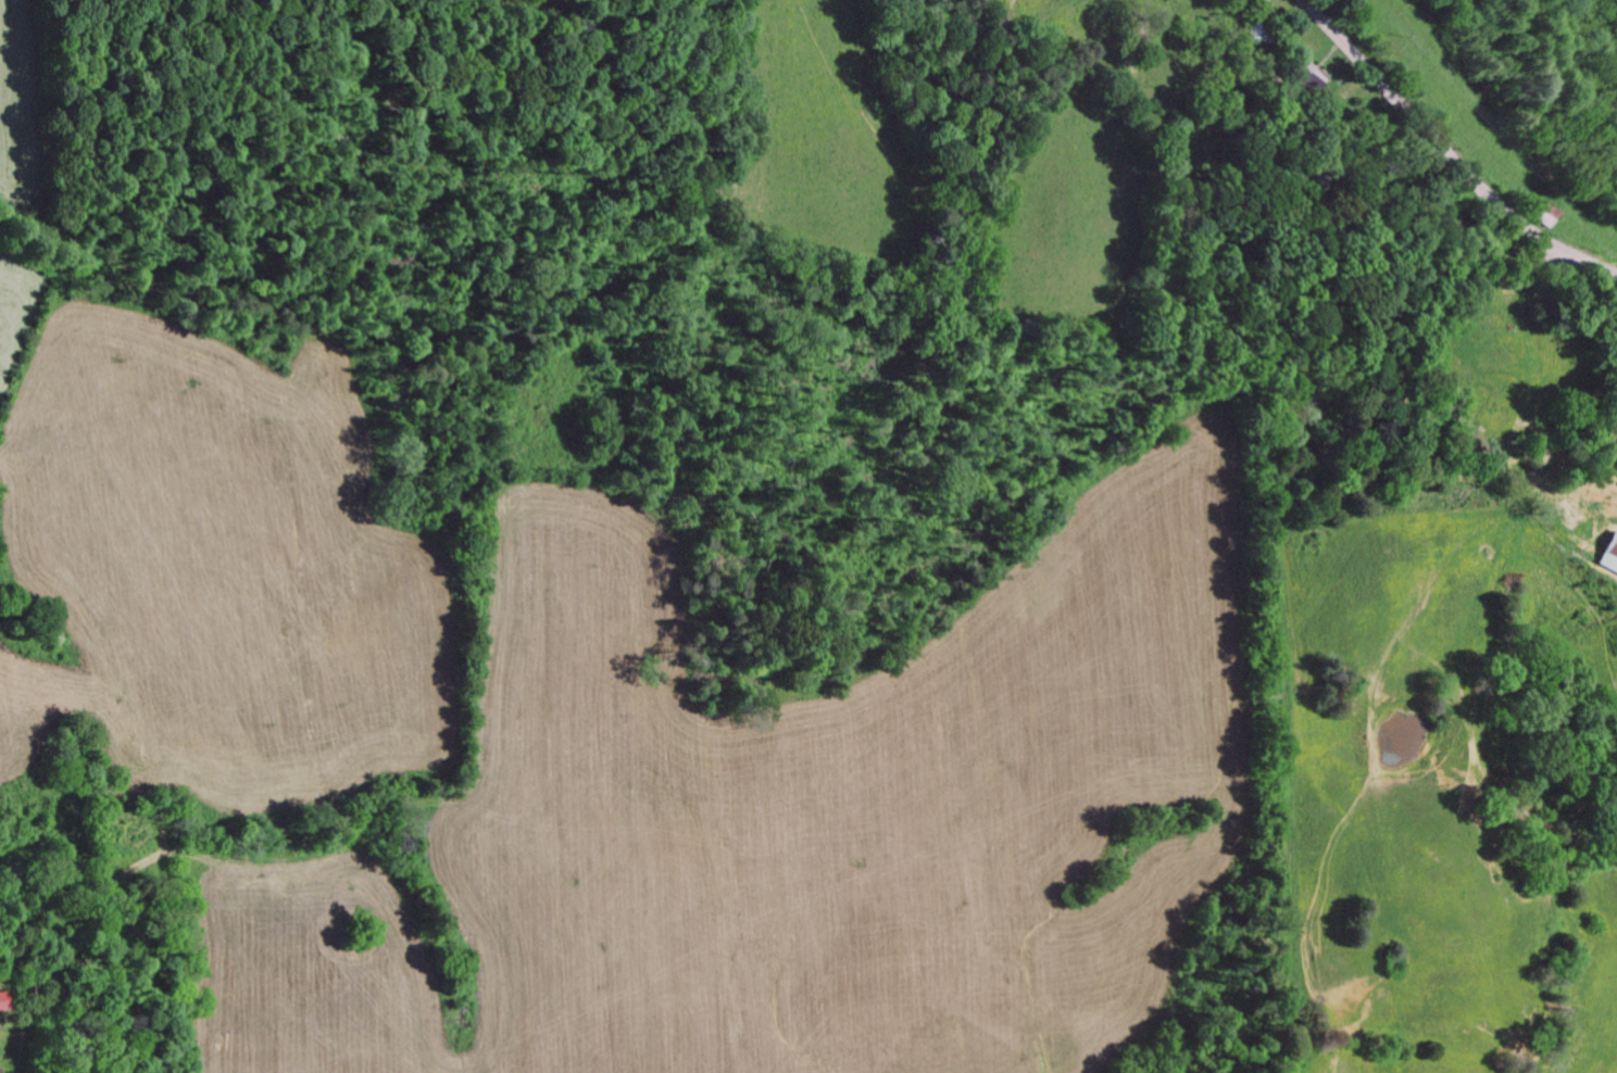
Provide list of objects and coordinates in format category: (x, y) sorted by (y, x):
building: (1304, 79)
road: (1455, 159)
building: (1534, 217)
building: (1615, 454)
building: (1608, 557)

